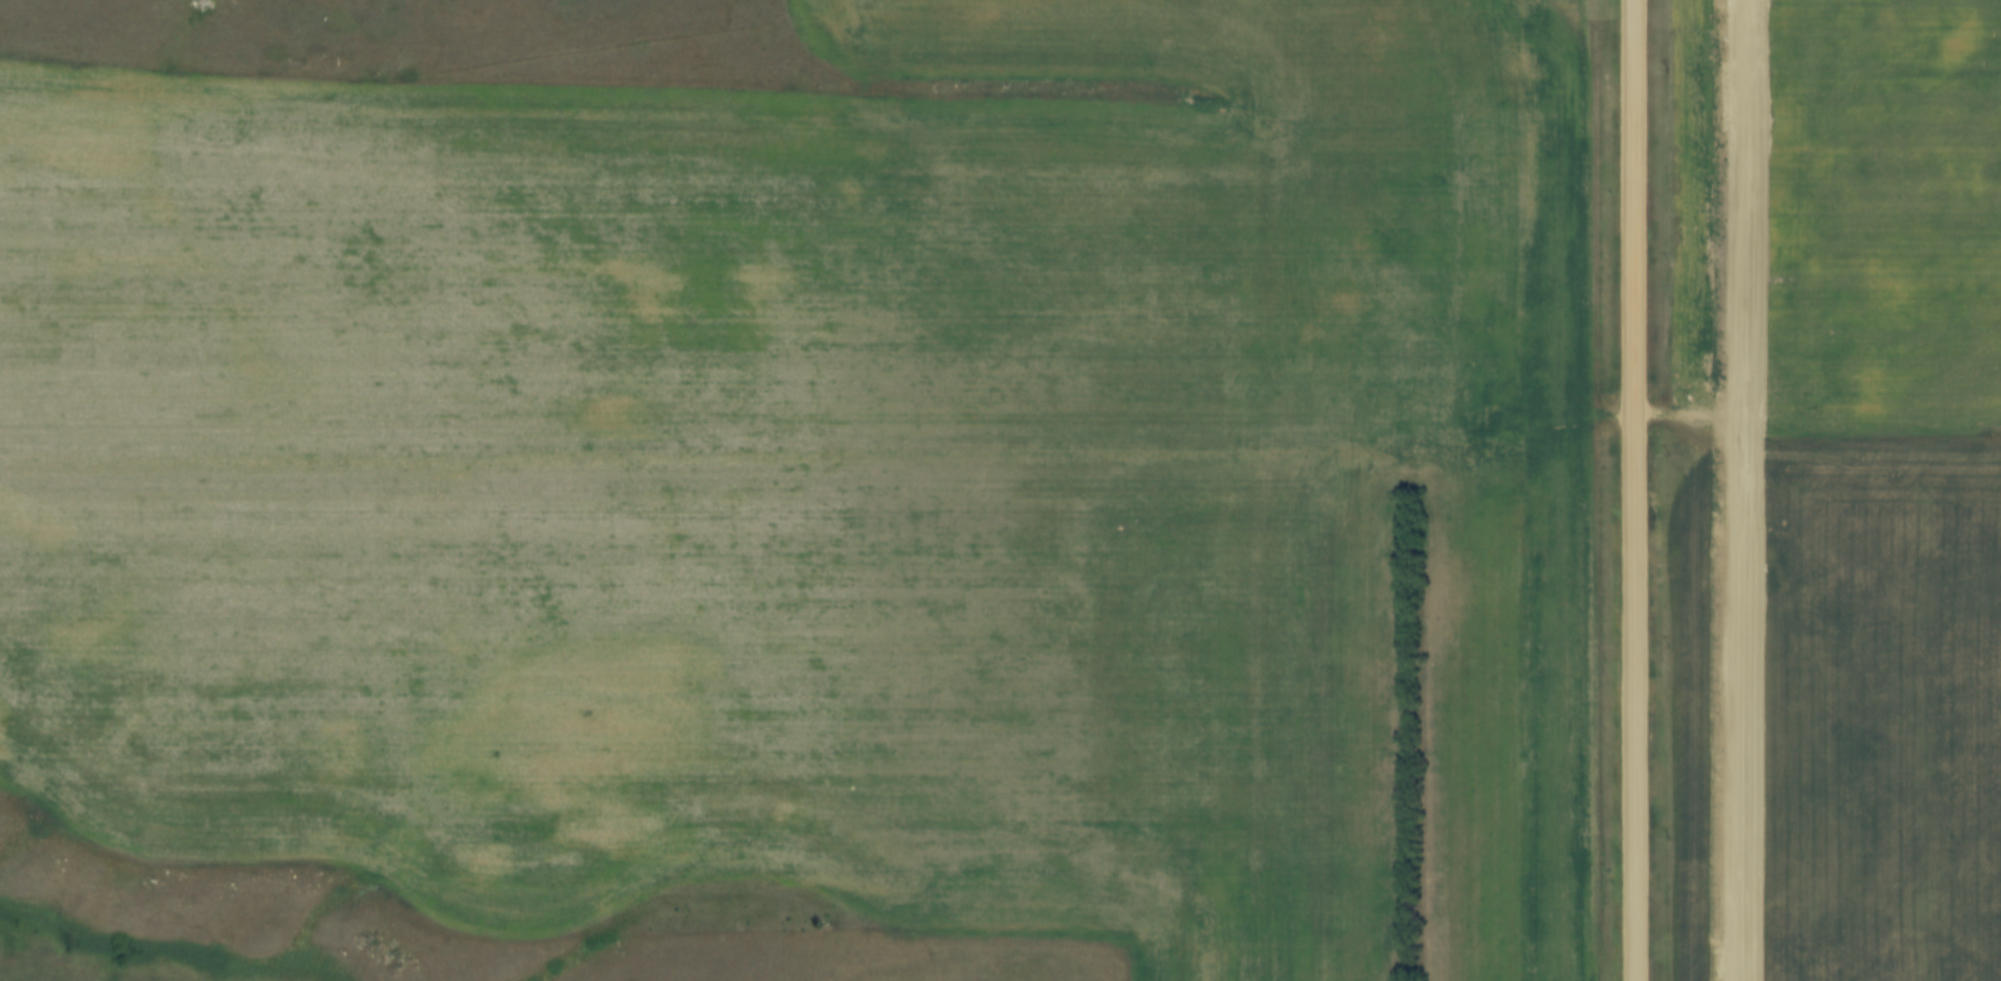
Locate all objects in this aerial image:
road: (1633, 490)

